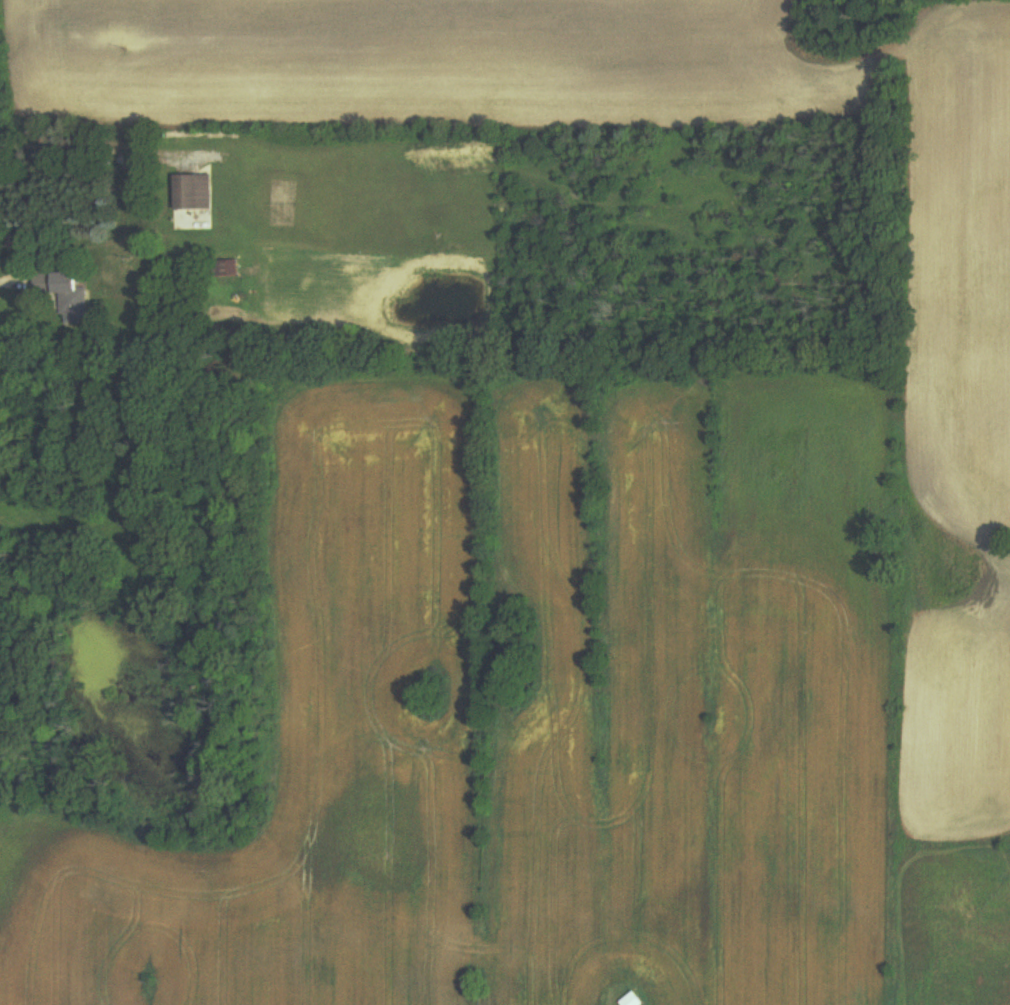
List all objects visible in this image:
building: (189, 193)
building: (229, 268)
building: (73, 297)
building: (632, 1000)

